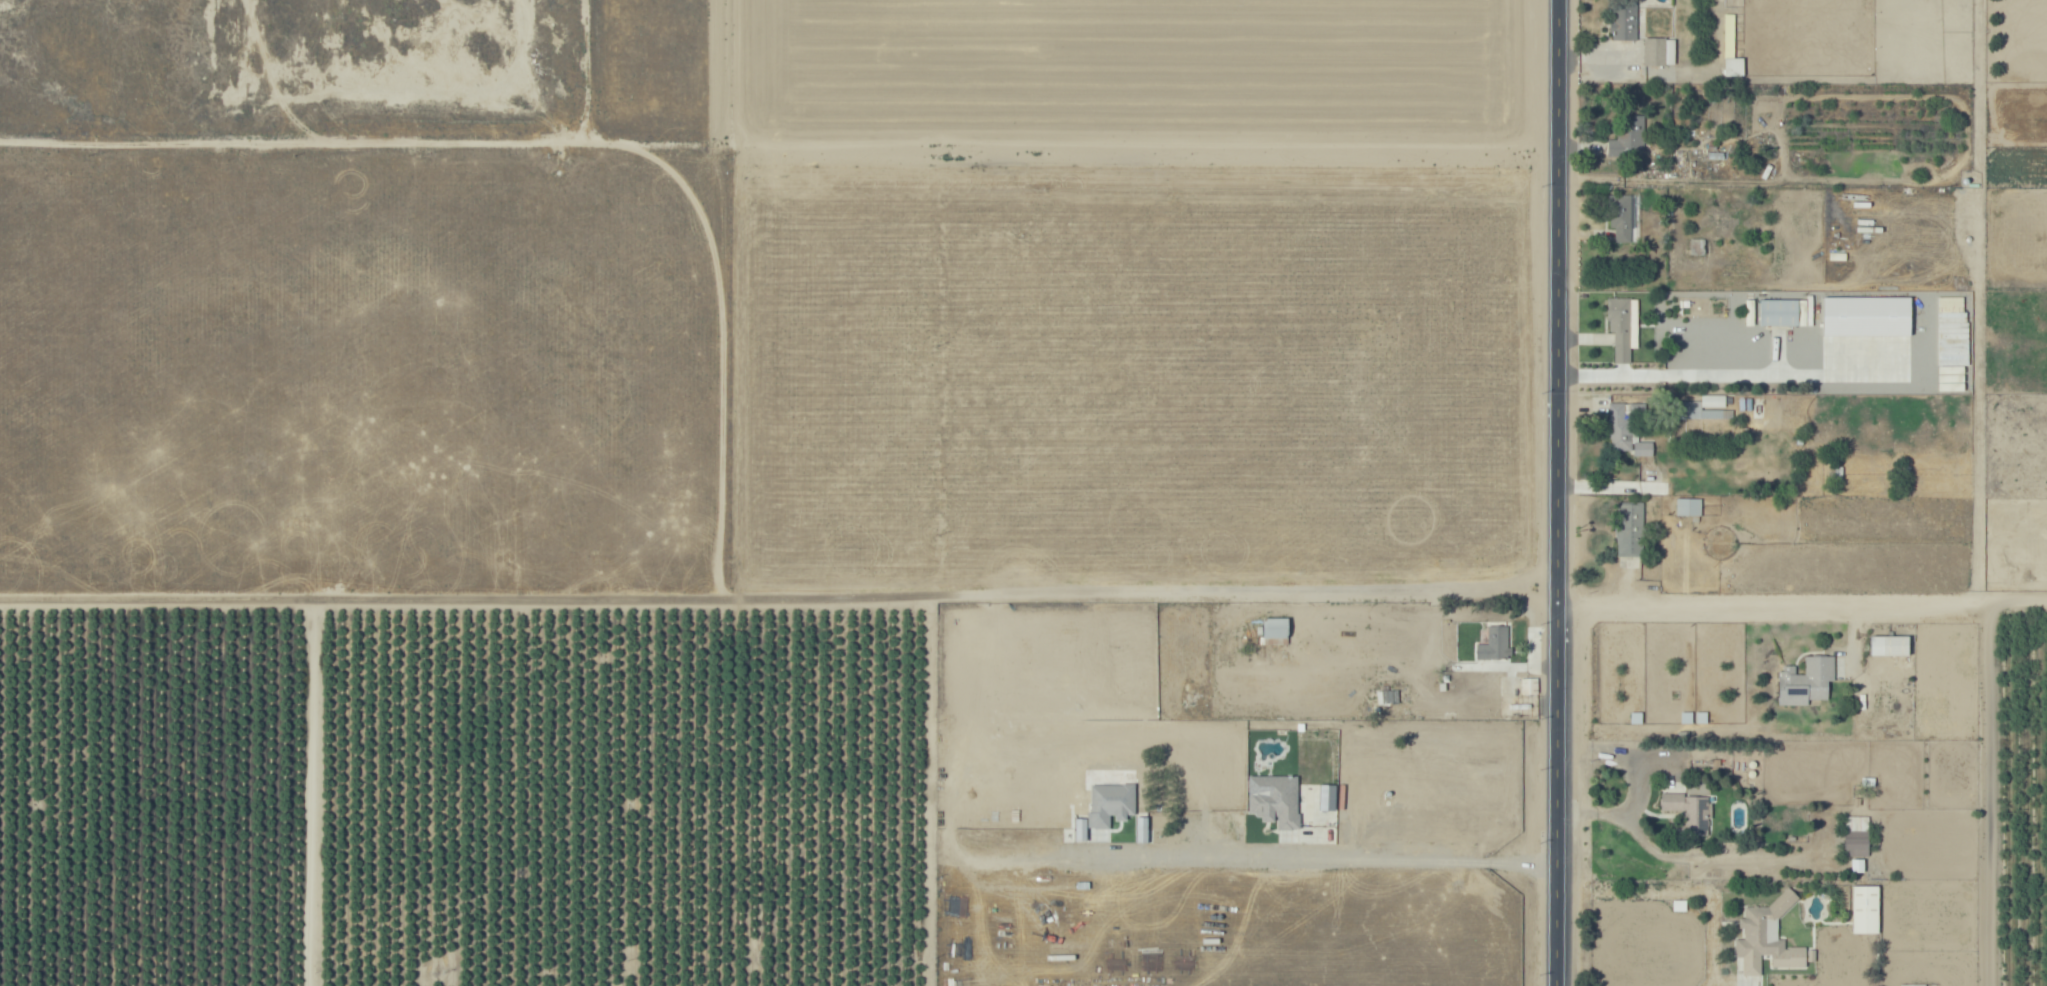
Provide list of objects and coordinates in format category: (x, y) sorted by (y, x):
building: (1625, 22)
building: (1727, 34)
building: (1659, 52)
building: (1732, 66)
building: (1628, 136)
road: (780, 146)
building: (1620, 216)
road: (1559, 301)
building: (1779, 313)
building: (1864, 316)
building: (1623, 321)
building: (1950, 336)
road: (1923, 341)
crop: (700, 358)
road: (1733, 376)
building: (1714, 402)
building: (1637, 409)
building: (1701, 413)
building: (1619, 429)
building: (1643, 449)
building: (1650, 465)
building: (1689, 508)
building: (1632, 530)
road: (1249, 603)
road: (1802, 603)
building: (1446, 627)
building: (1273, 630)
building: (1495, 645)
building: (1890, 648)
building: (1807, 682)
building: (1243, 683)
building: (1531, 688)
building: (1386, 697)
building: (1635, 718)
building: (1687, 718)
building: (1701, 719)
building: (1494, 745)
building: (1717, 764)
building: (1869, 783)
road: (1558, 794)
crop: (1811, 795)
road: (1995, 795)
building: (1279, 804)
building: (1112, 806)
building: (1687, 813)
building: (1141, 830)
building: (1857, 837)
road: (1686, 855)
road: (1311, 858)
road: (1677, 892)
building: (1680, 907)
building: (1866, 912)
building: (1764, 930)
building: (1911, 984)

